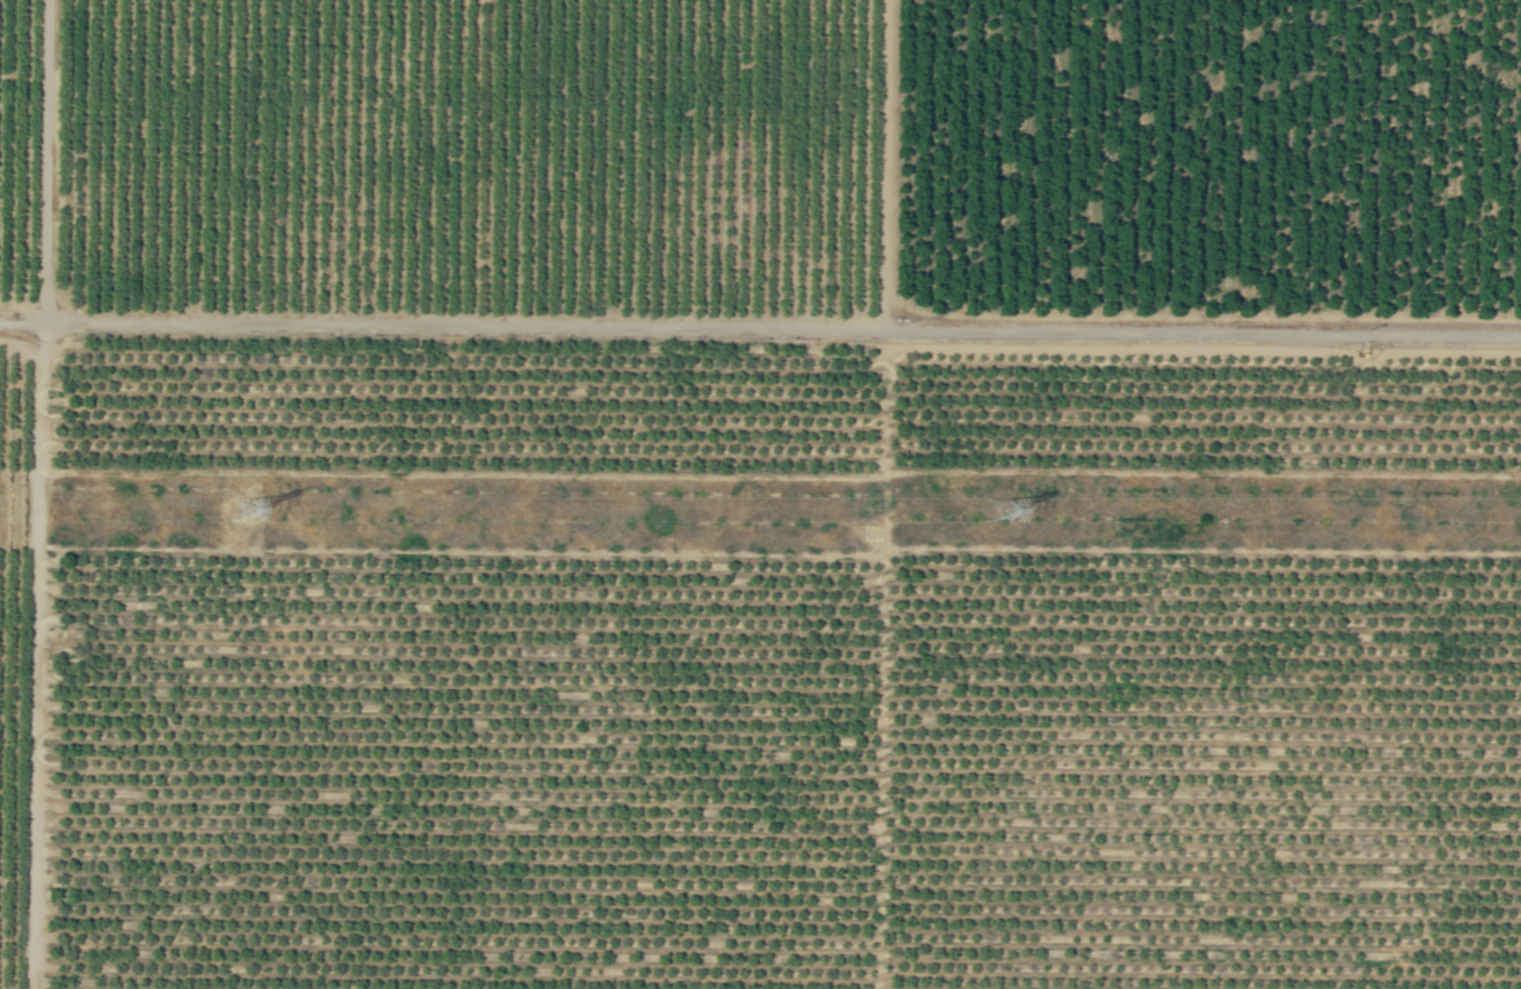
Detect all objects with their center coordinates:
road: (42, 161)
road: (760, 327)
power tower: (236, 508)
power tower: (1000, 509)
road: (36, 656)

